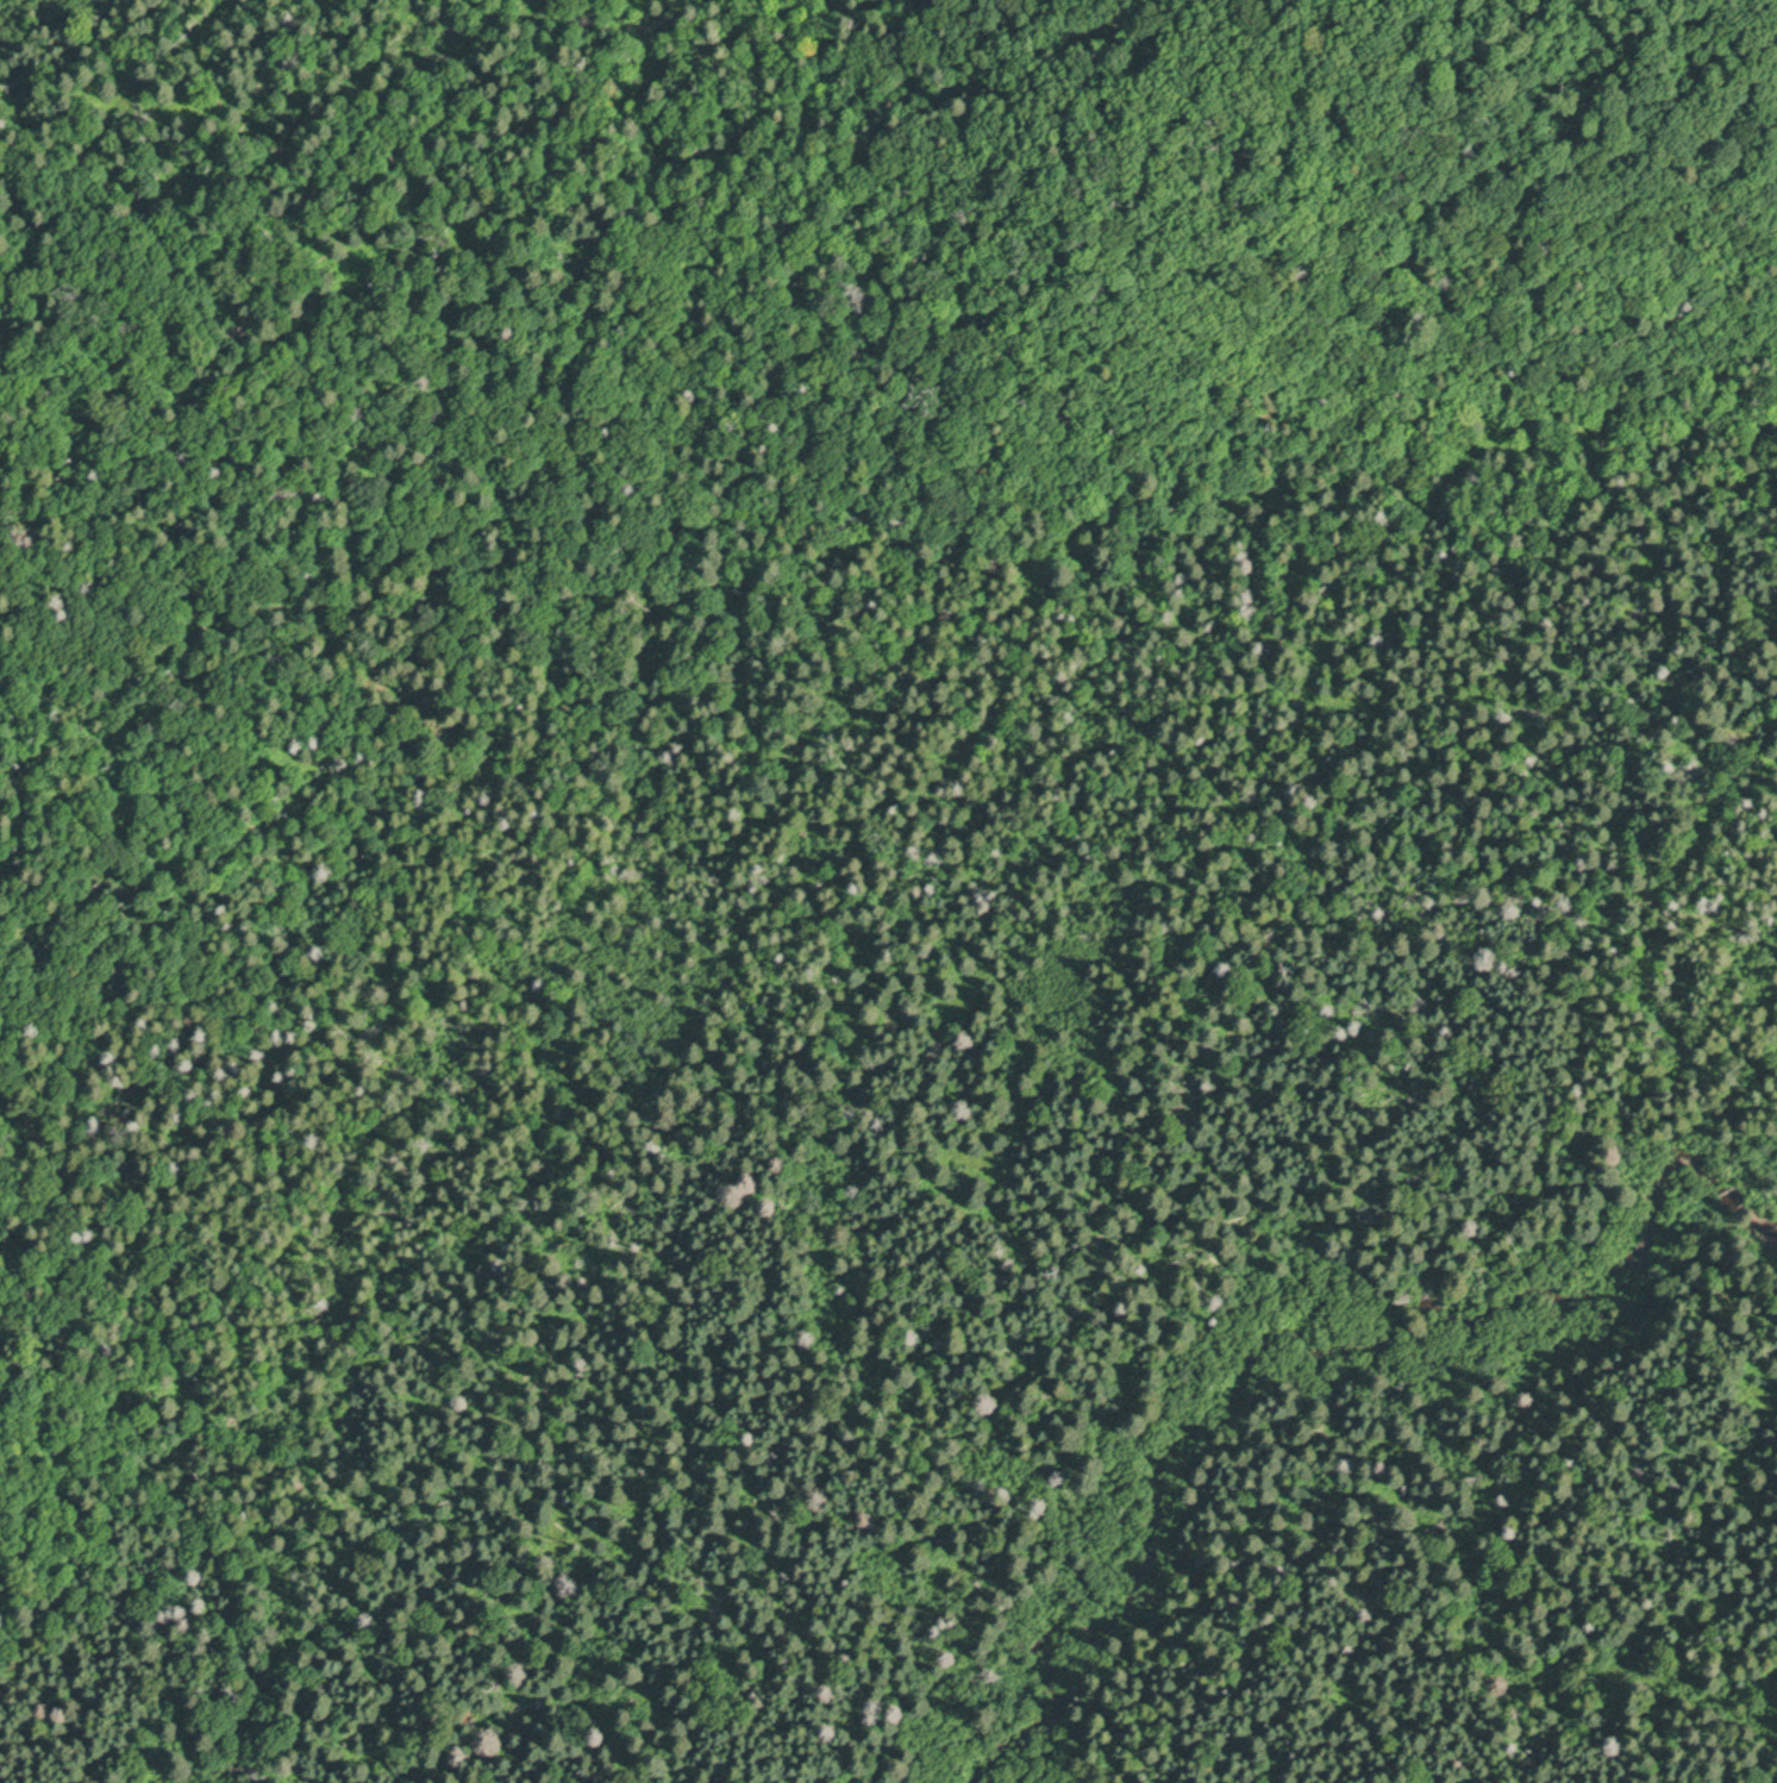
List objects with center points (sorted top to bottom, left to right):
road: (670, 146)

